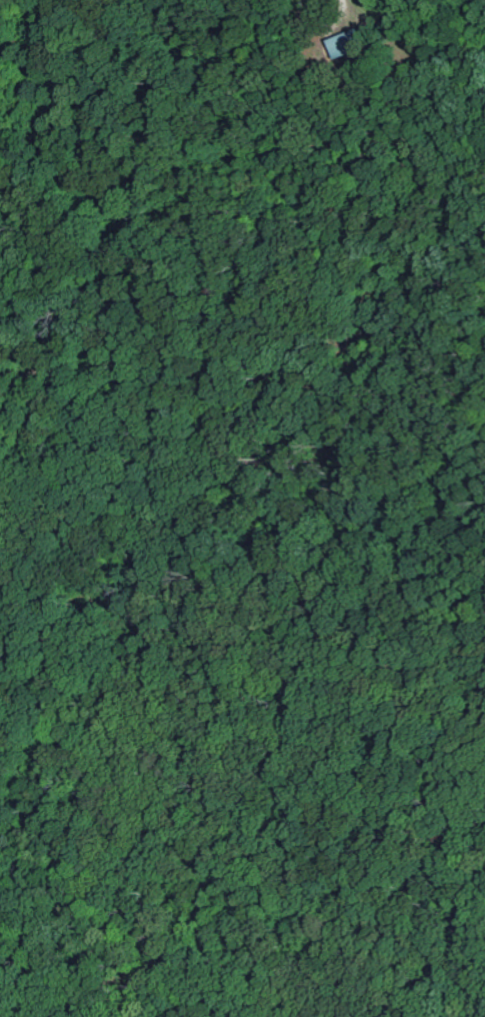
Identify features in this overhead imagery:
building: (342, 44)
park: (241, 511)

